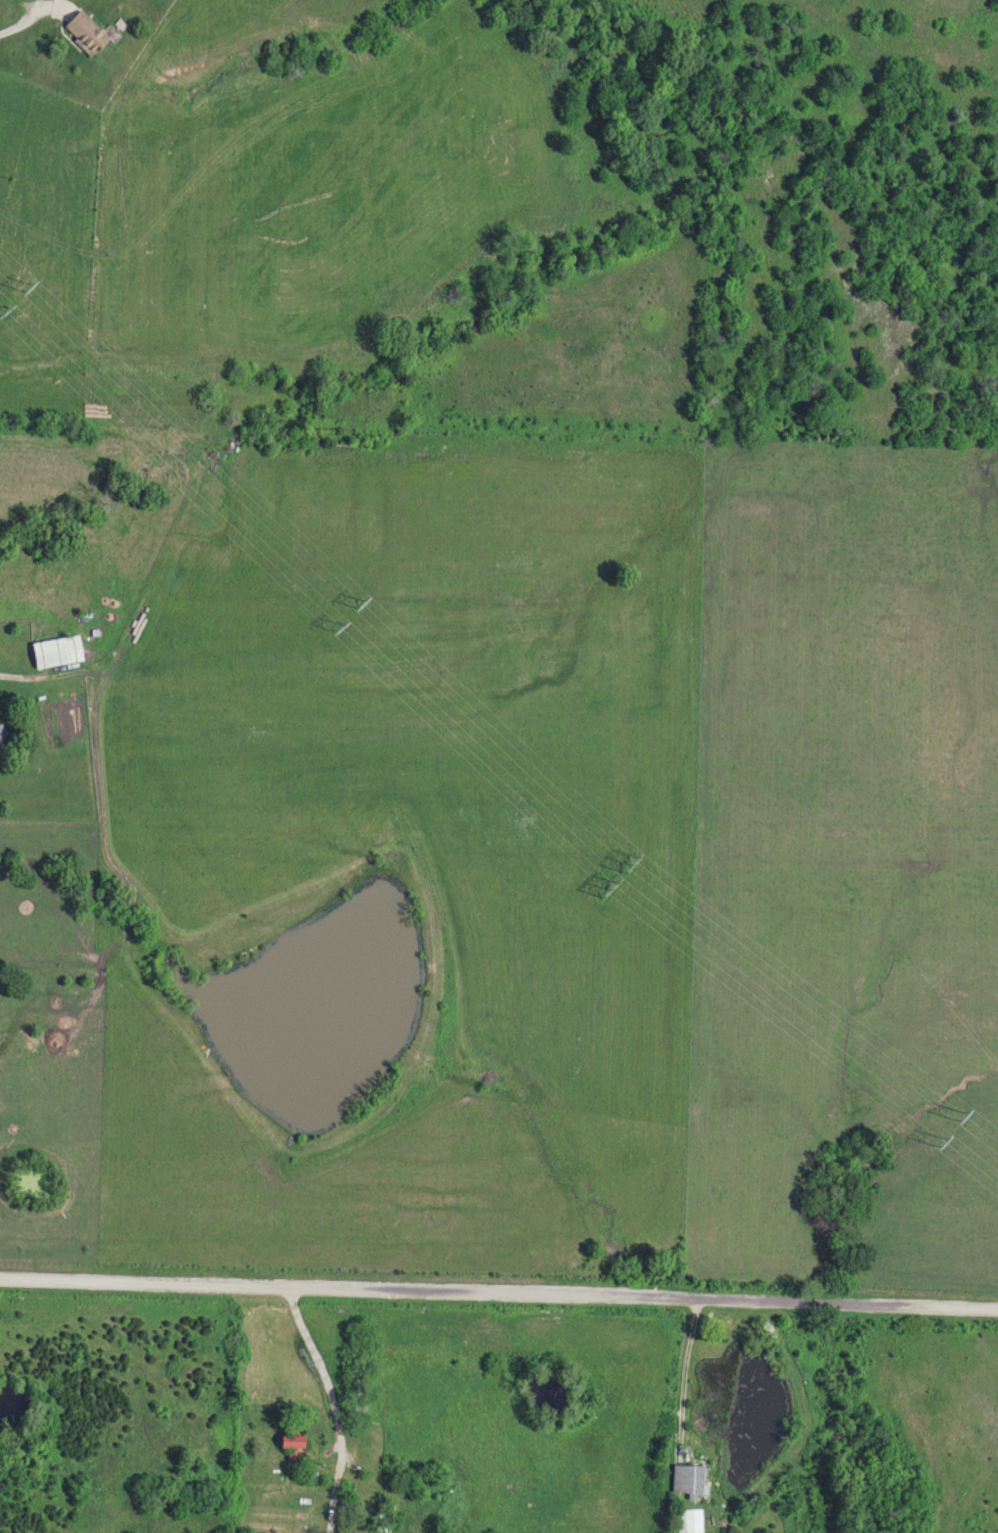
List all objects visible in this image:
road: (13, 27)
building: (83, 31)
power tower: (17, 290)
power tower: (351, 605)
power tower: (327, 627)
building: (54, 651)
building: (1, 733)
power tower: (621, 870)
power tower: (600, 892)
power tower: (950, 1115)
power tower: (933, 1143)
road: (498, 1296)
road: (321, 1371)
road: (681, 1378)
building: (293, 1447)
building: (686, 1478)
building: (688, 1521)

